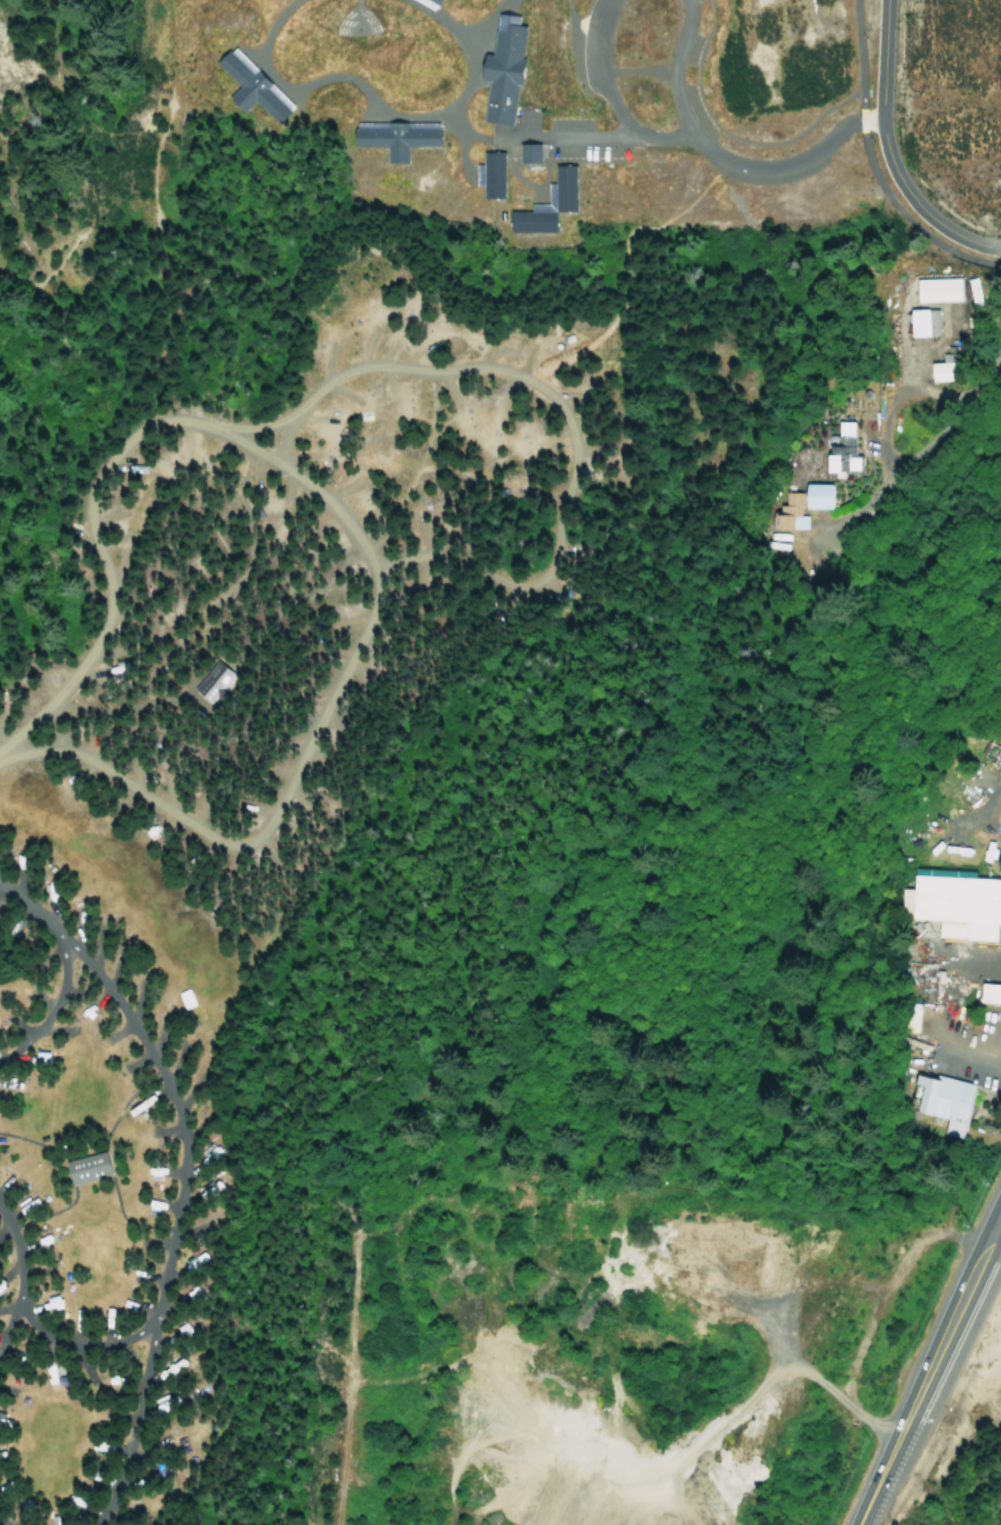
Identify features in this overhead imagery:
building: (436, 0)
building: (441, 0)
building: (429, 2)
road: (259, 16)
road: (481, 18)
building: (503, 67)
road: (637, 68)
road: (673, 68)
building: (250, 85)
road: (610, 97)
road: (379, 101)
road: (731, 132)
road: (570, 133)
building: (397, 134)
road: (462, 138)
building: (529, 150)
road: (887, 153)
road: (789, 165)
road: (872, 167)
building: (494, 172)
road: (153, 179)
building: (566, 182)
building: (531, 218)
road: (84, 227)
road: (19, 280)
building: (932, 289)
building: (918, 322)
road: (101, 346)
building: (934, 371)
road: (540, 390)
building: (838, 450)
road: (915, 454)
building: (800, 504)
road: (347, 529)
building: (214, 679)
building: (998, 823)
building: (941, 872)
building: (959, 903)
road: (353, 935)
road: (60, 967)
road: (951, 991)
building: (987, 993)
building: (910, 1017)
road: (967, 1057)
building: (942, 1099)
road: (111, 1120)
building: (87, 1165)
road: (69, 1176)
road: (116, 1212)
road: (171, 1233)
road: (6, 1322)
road: (253, 1332)
road: (927, 1371)
road: (131, 1425)
road: (340, 1449)
road: (635, 1472)
road: (2, 1522)

